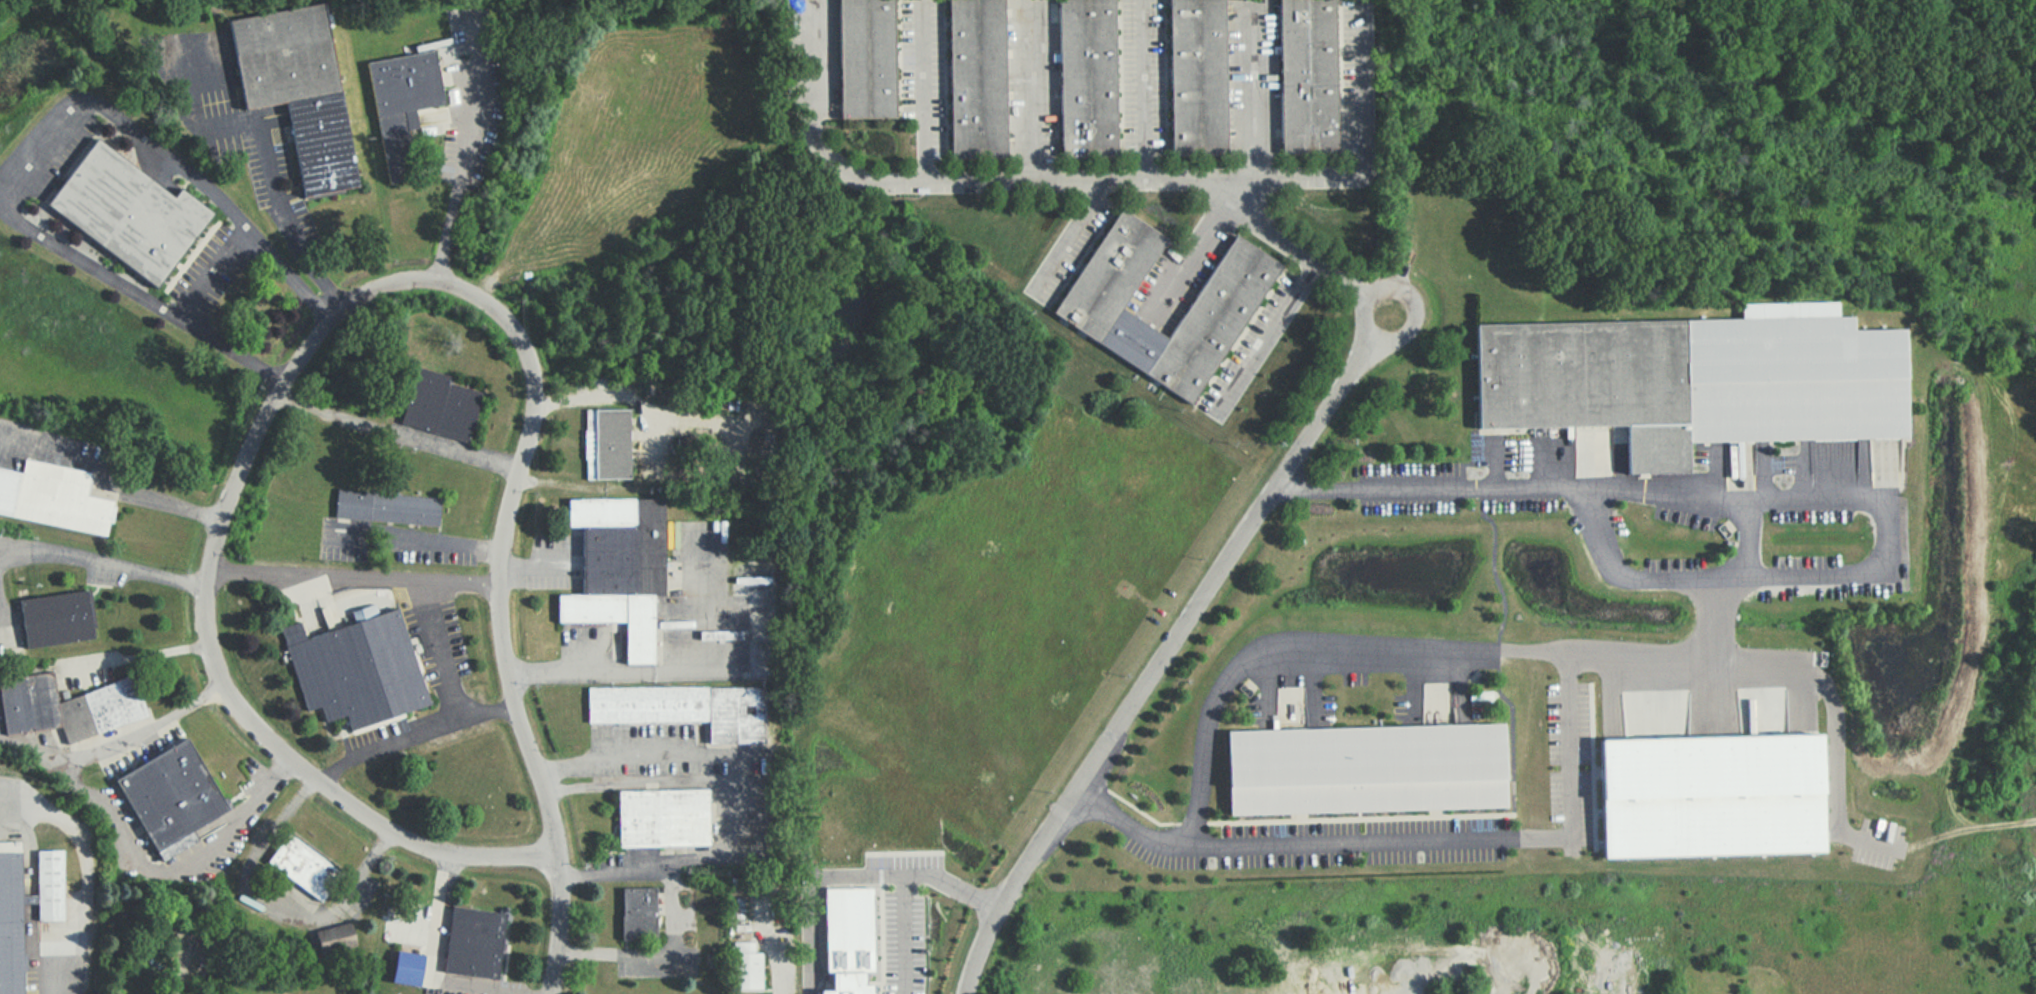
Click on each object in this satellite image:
building: (863, 58)
parking lot: (813, 59)
road: (809, 61)
parking lot: (919, 71)
parking lot: (1351, 74)
building: (1306, 75)
building: (1194, 76)
parking lot: (1249, 76)
road: (1361, 76)
building: (1084, 77)
parking lot: (1139, 77)
parking lot: (1029, 78)
building: (974, 79)
building: (298, 88)
road: (1252, 89)
road: (1033, 90)
road: (1140, 90)
road: (923, 91)
building: (403, 104)
parking lot: (468, 123)
road: (46, 148)
road: (268, 166)
road: (461, 175)
road: (1077, 180)
building: (125, 212)
road: (1073, 240)
parking lot: (1068, 250)
road: (1299, 250)
parking lot: (212, 272)
road: (288, 275)
building: (1105, 275)
road: (1176, 280)
parking lot: (1161, 295)
road: (342, 297)
building: (1209, 320)
road: (1261, 335)
parking lot: (1250, 345)
road: (274, 382)
building: (1692, 383)
building: (441, 404)
road: (531, 420)
parking lot: (54, 440)
building: (604, 443)
road: (466, 454)
road: (112, 477)
road: (1583, 495)
building: (52, 496)
building: (386, 507)
parking lot: (1669, 523)
road: (1744, 535)
road: (413, 538)
parking lot: (342, 551)
parking lot: (432, 556)
parking lot: (549, 563)
road: (104, 565)
road: (534, 565)
building: (616, 567)
road: (1745, 575)
road: (356, 576)
building: (56, 618)
parking lot: (587, 632)
parking lot: (437, 641)
road: (0, 642)
road: (1171, 648)
road: (1642, 653)
road: (136, 657)
building: (354, 667)
road: (610, 672)
road: (1218, 693)
building: (69, 704)
parking lot: (1293, 705)
road: (1830, 706)
parking lot: (1439, 707)
building: (685, 708)
road: (487, 712)
road: (452, 720)
parking lot: (404, 731)
parking lot: (642, 731)
parking lot: (372, 734)
parking lot: (143, 750)
road: (648, 753)
parking lot: (1569, 756)
parking lot: (652, 768)
building: (1361, 768)
road: (1567, 775)
road: (322, 782)
road: (704, 782)
building: (172, 792)
building: (661, 816)
parking lot: (127, 817)
road: (108, 822)
road: (1874, 840)
road: (1351, 842)
parking lot: (1877, 842)
parking lot: (1322, 843)
parking lot: (226, 854)
building: (300, 866)
road: (902, 881)
building: (45, 885)
road: (808, 891)
building: (637, 912)
road: (675, 916)
road: (267, 918)
building: (9, 924)
building: (846, 937)
building: (334, 940)
parking lot: (667, 941)
building: (475, 942)
road: (434, 962)
building: (744, 965)
road: (774, 968)
building: (406, 969)
road: (51, 971)
parking lot: (449, 990)

